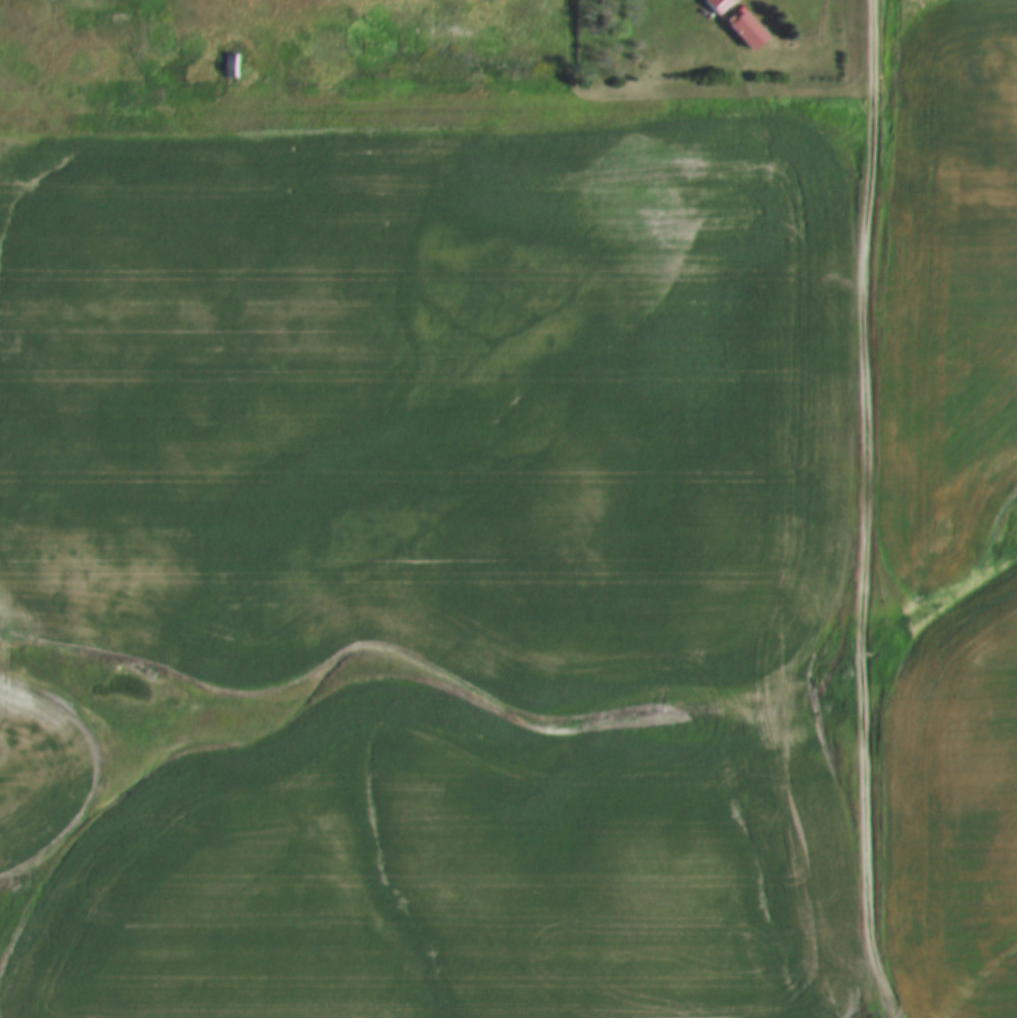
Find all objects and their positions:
building: (717, 3)
building: (745, 25)
building: (232, 60)
road: (438, 102)
road: (866, 509)

